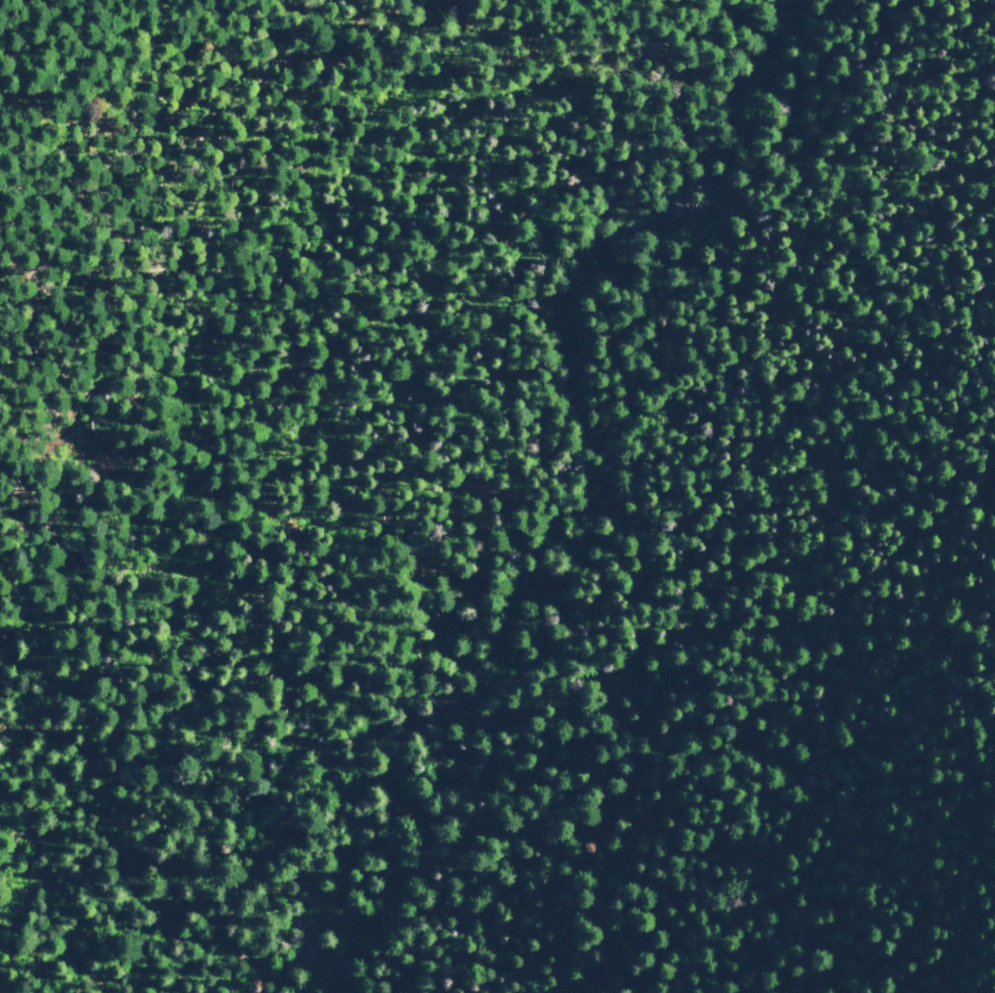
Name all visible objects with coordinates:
road: (981, 902)

